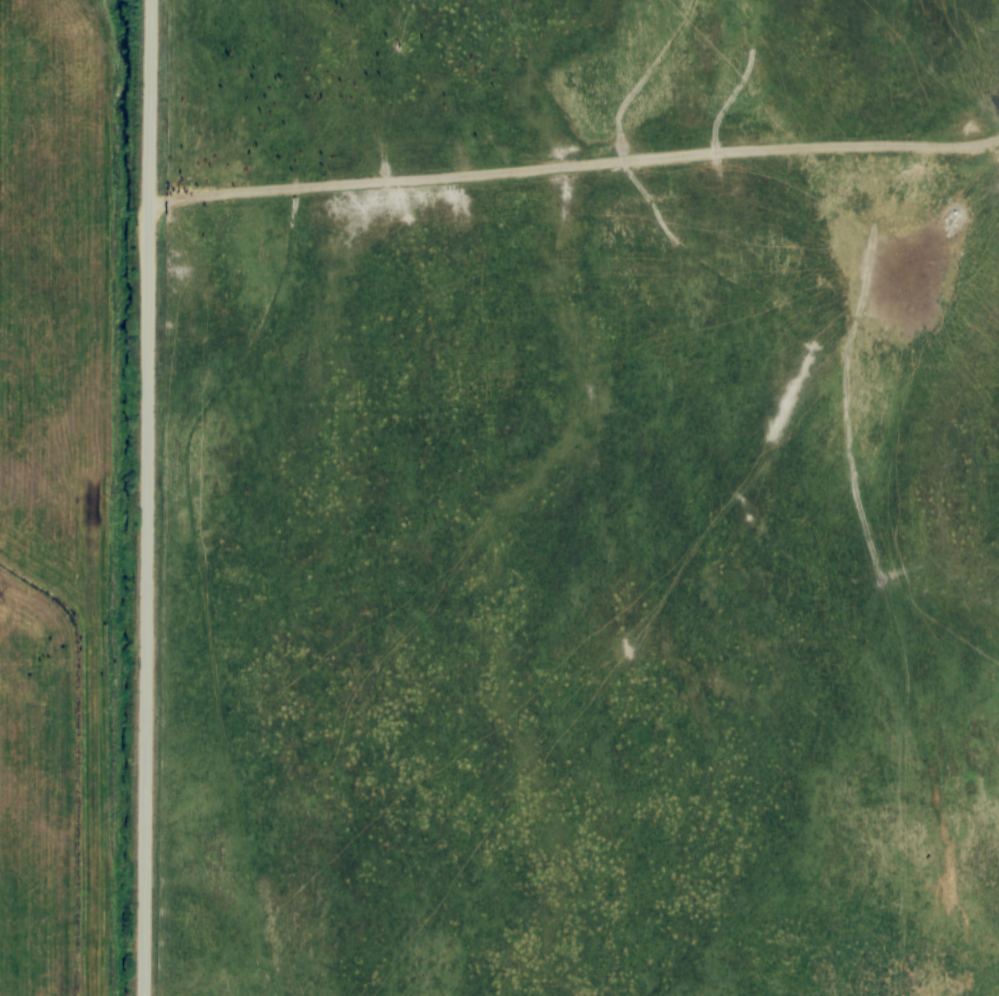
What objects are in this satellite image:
road: (585, 162)
road: (169, 498)

